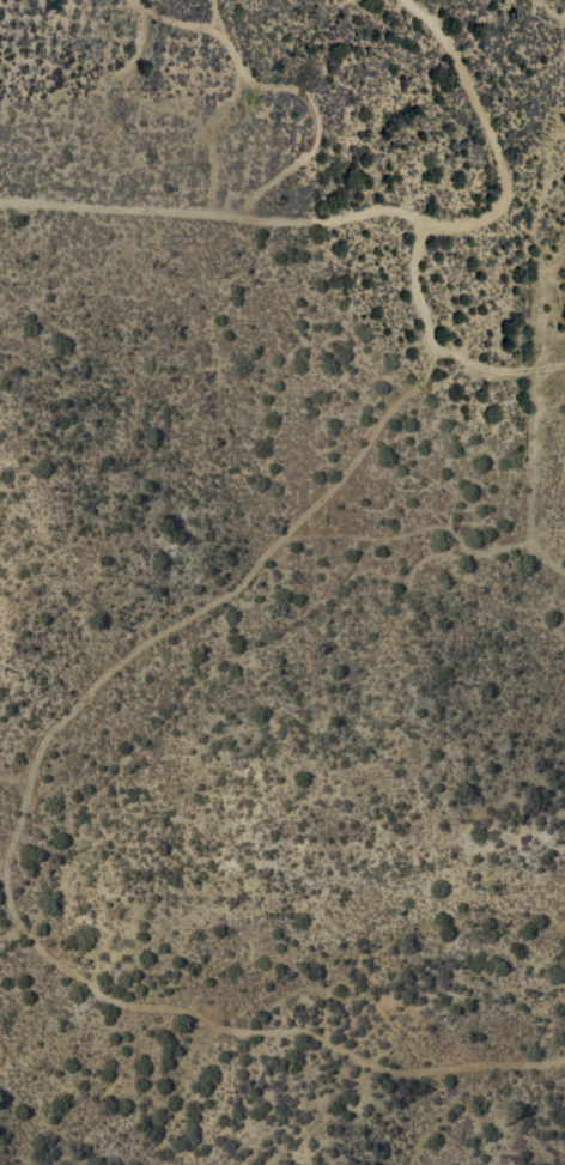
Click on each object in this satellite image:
crop: (140, 113)

